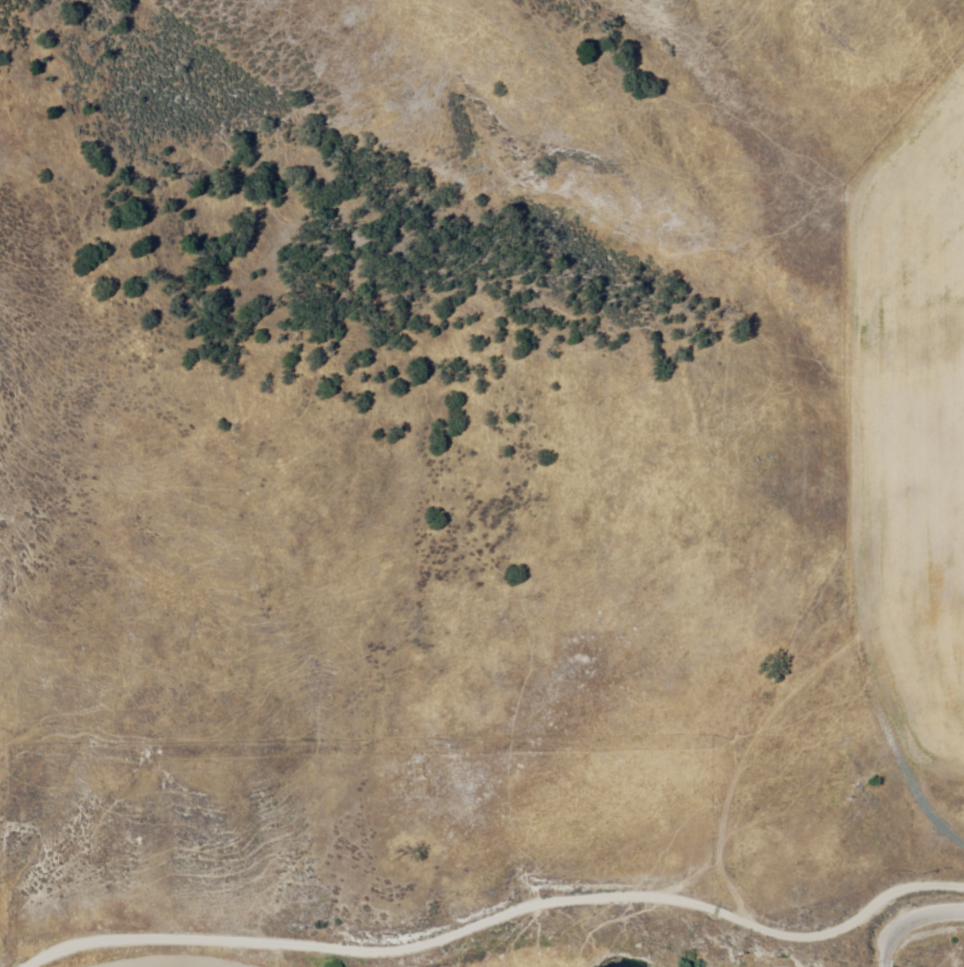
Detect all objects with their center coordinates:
road: (872, 495)
road: (937, 883)
road: (449, 921)
road: (909, 922)

